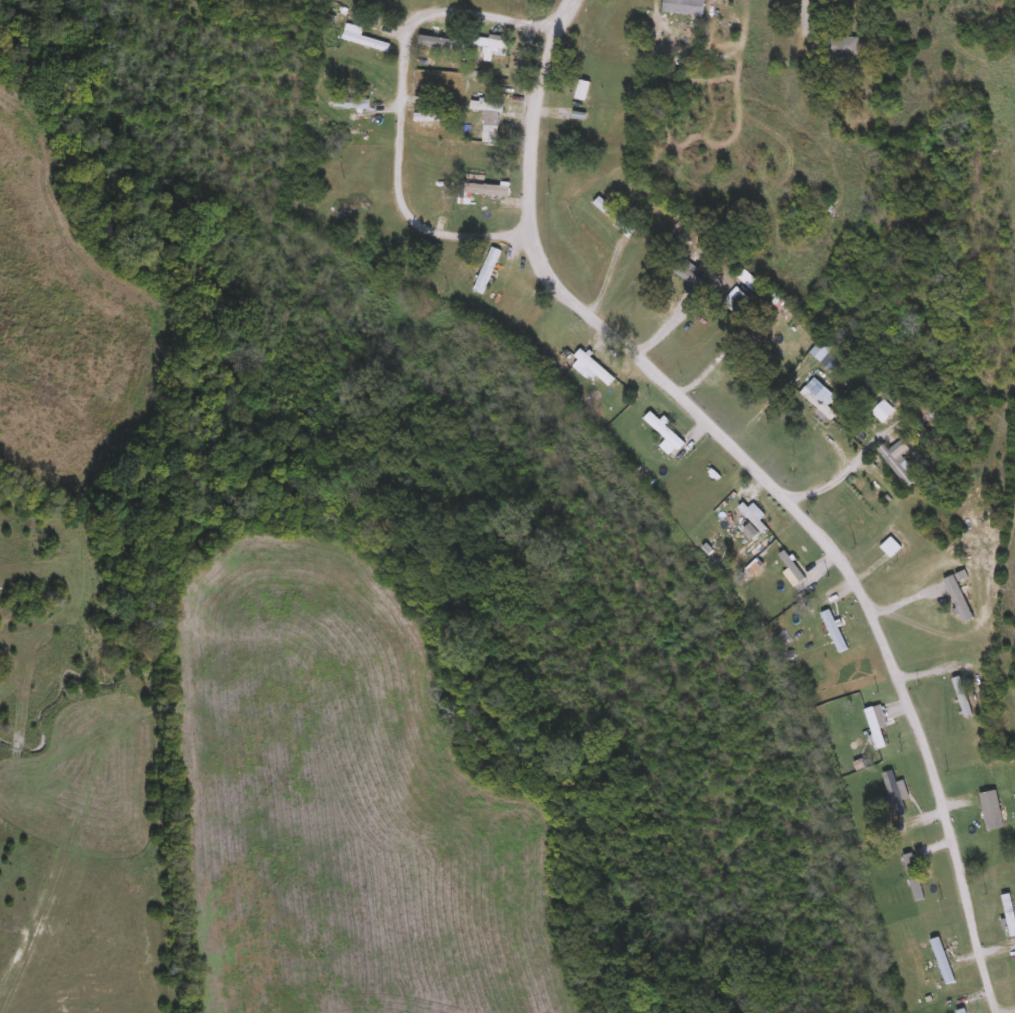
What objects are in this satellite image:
building: (683, 7)
road: (554, 15)
building: (729, 29)
building: (365, 42)
helipad: (228, 43)
building: (444, 43)
building: (489, 49)
building: (845, 49)
building: (351, 105)
building: (486, 108)
road: (403, 124)
building: (489, 134)
building: (480, 200)
building: (611, 215)
building: (490, 272)
building: (688, 277)
road: (668, 326)
building: (819, 351)
building: (591, 368)
building: (818, 404)
building: (884, 412)
building: (666, 429)
building: (898, 467)
road: (826, 486)
road: (774, 491)
building: (752, 517)
building: (829, 633)
building: (967, 713)
building: (874, 733)
building: (896, 802)
building: (988, 810)
building: (916, 879)
building: (1011, 918)
building: (941, 963)
building: (961, 1012)

